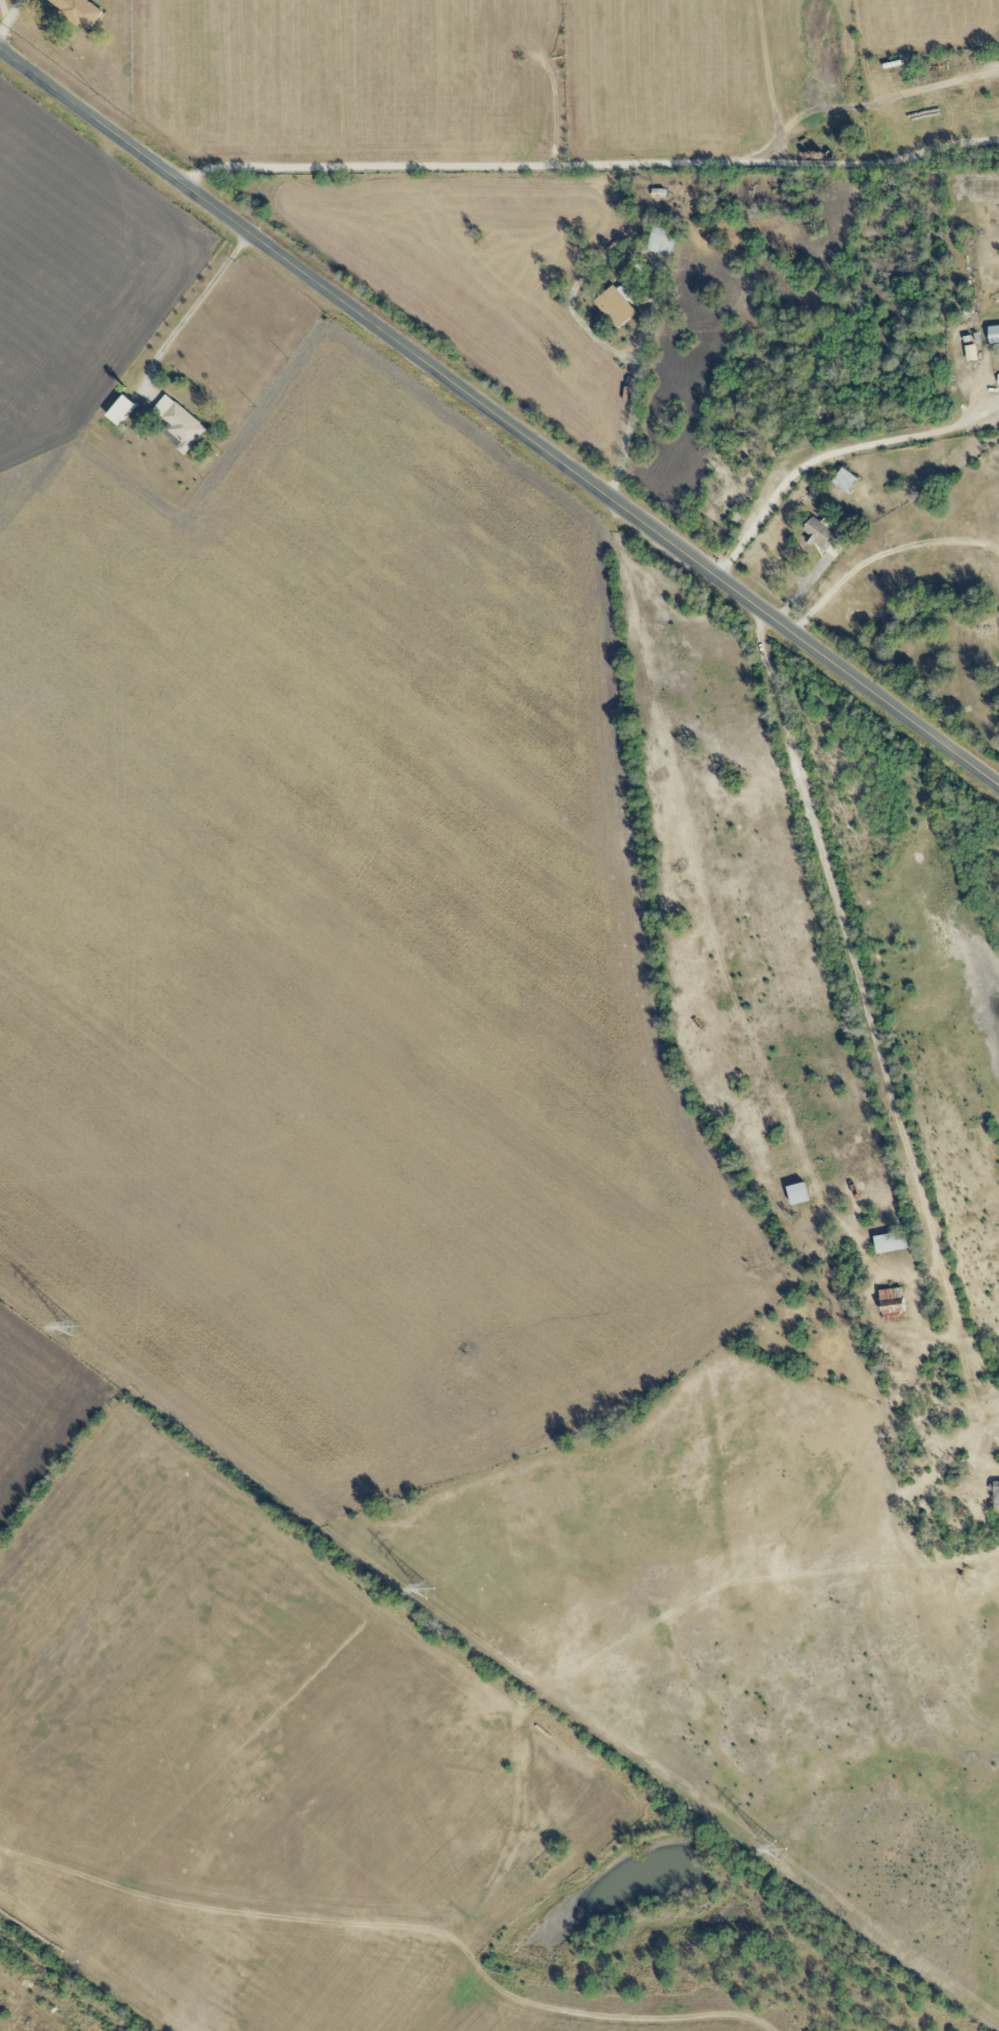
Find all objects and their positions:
building: (78, 11)
road: (591, 166)
building: (660, 241)
building: (616, 305)
road: (191, 310)
road: (574, 312)
building: (993, 335)
building: (970, 353)
building: (998, 379)
building: (121, 410)
road: (499, 417)
building: (178, 424)
road: (835, 455)
building: (844, 480)
building: (820, 535)
road: (882, 555)
road: (874, 1039)
building: (797, 1194)
building: (891, 1242)
building: (892, 1304)
power tower: (74, 1326)
building: (996, 1494)
power tower: (427, 1588)
power tower: (777, 1851)

